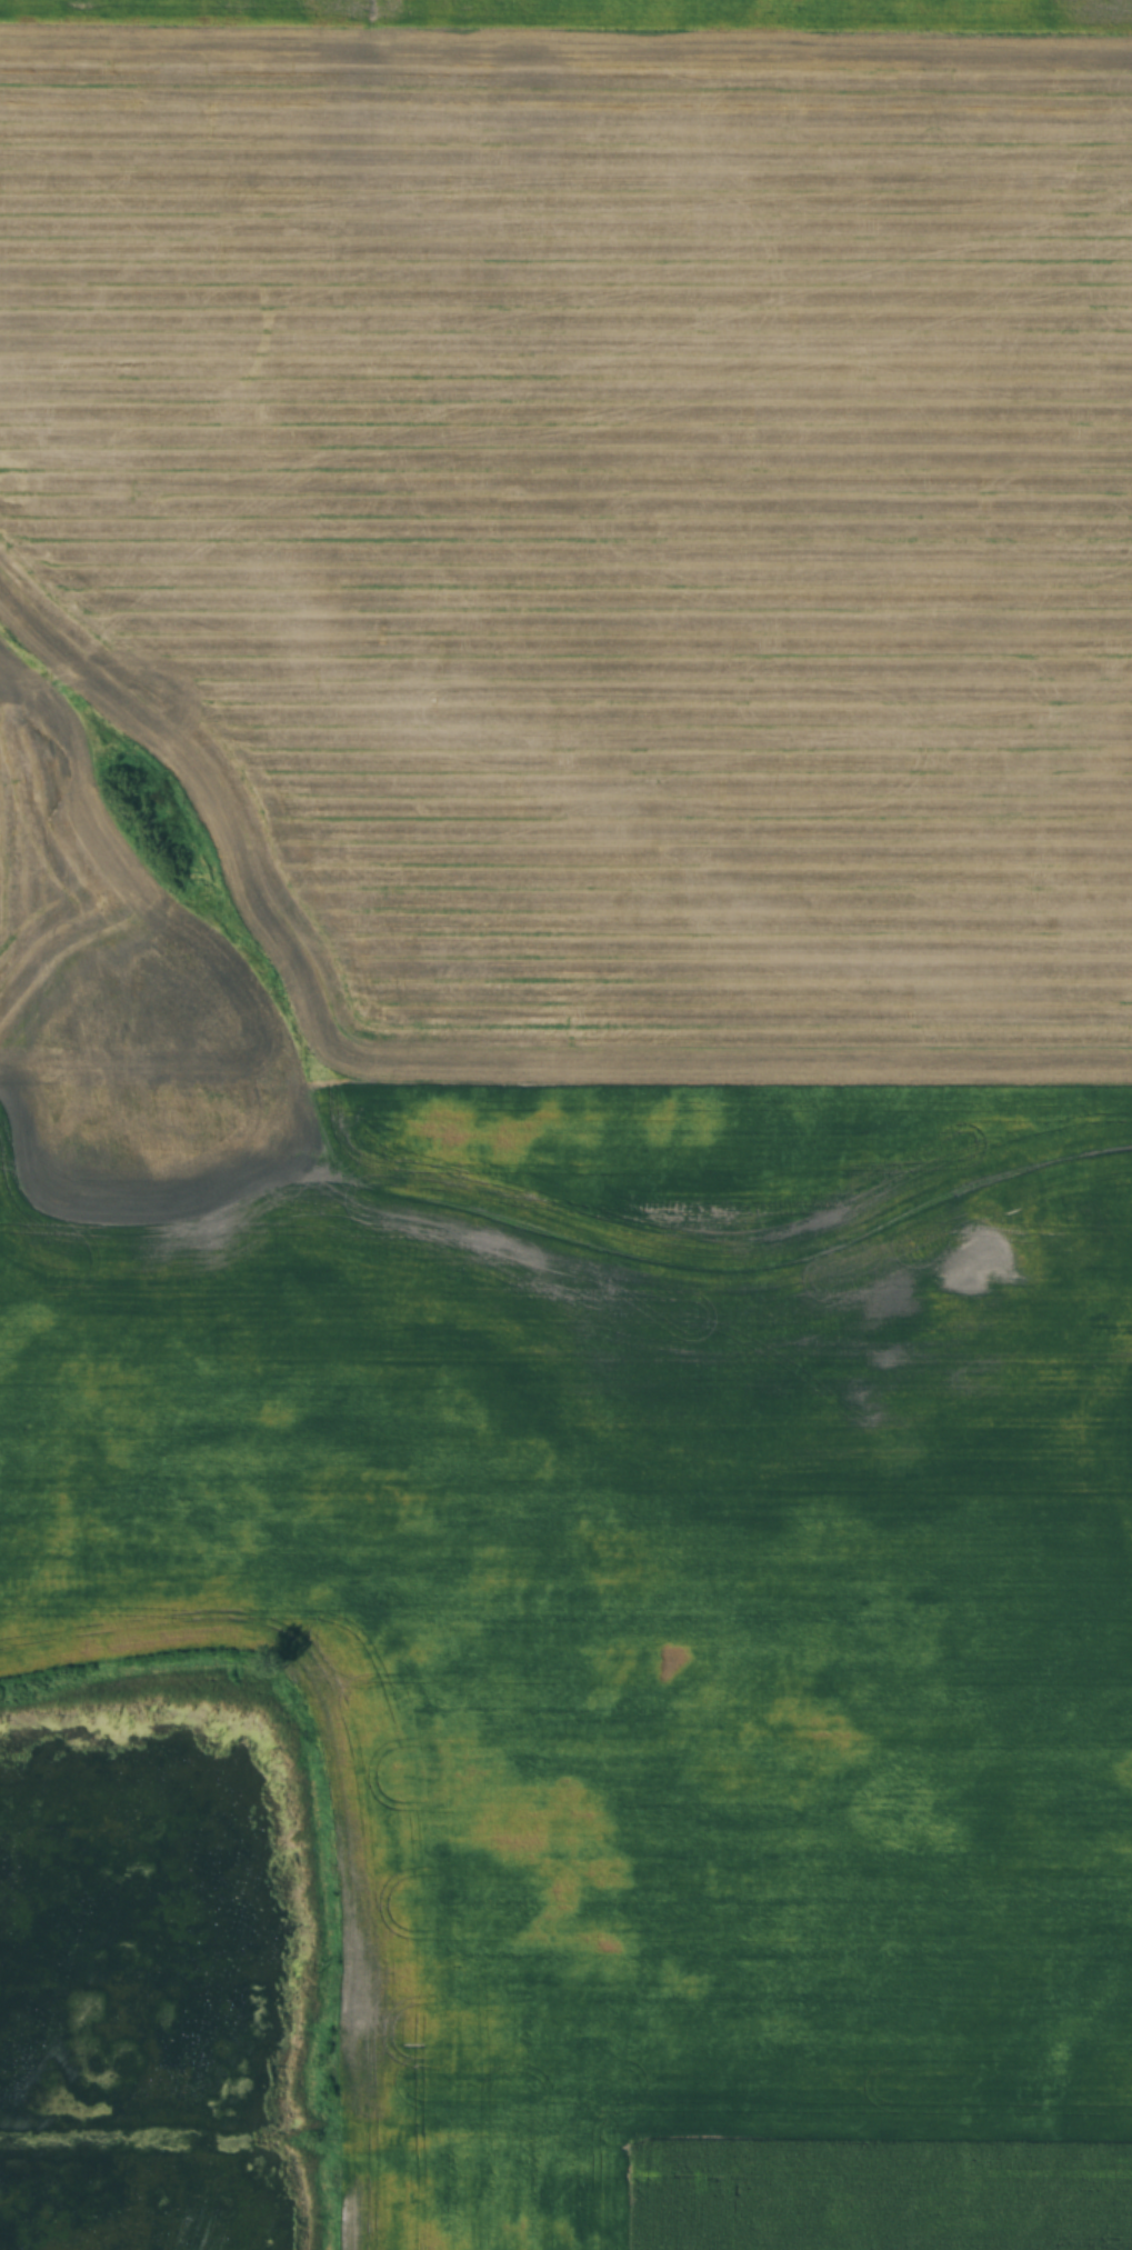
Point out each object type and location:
road: (871, 2140)

